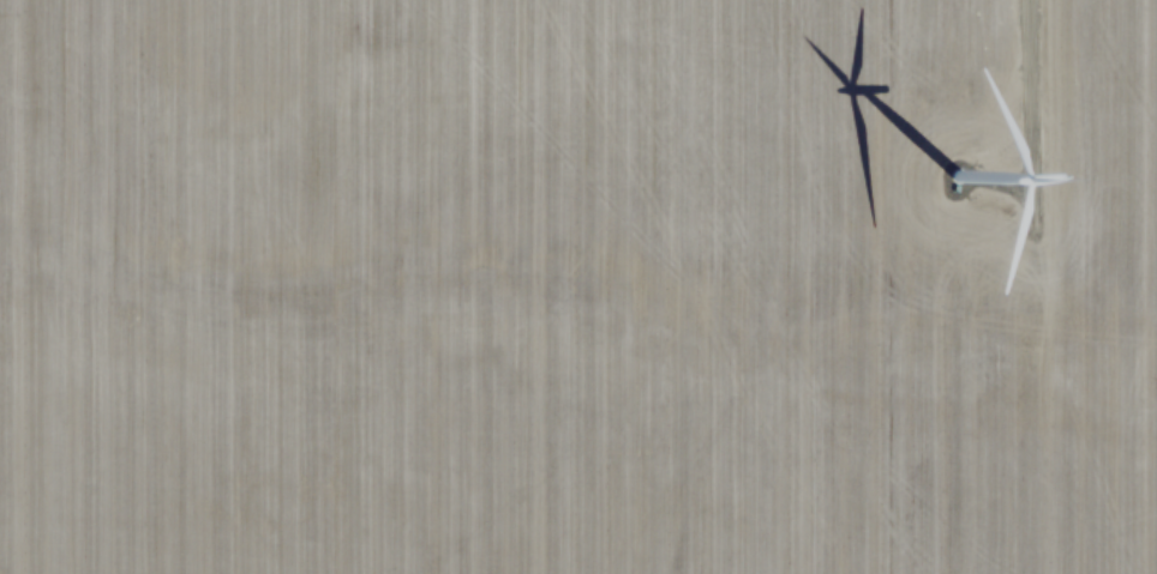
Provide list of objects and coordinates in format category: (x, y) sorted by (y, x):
road: (1021, 111)
wind turbine: (964, 193)

